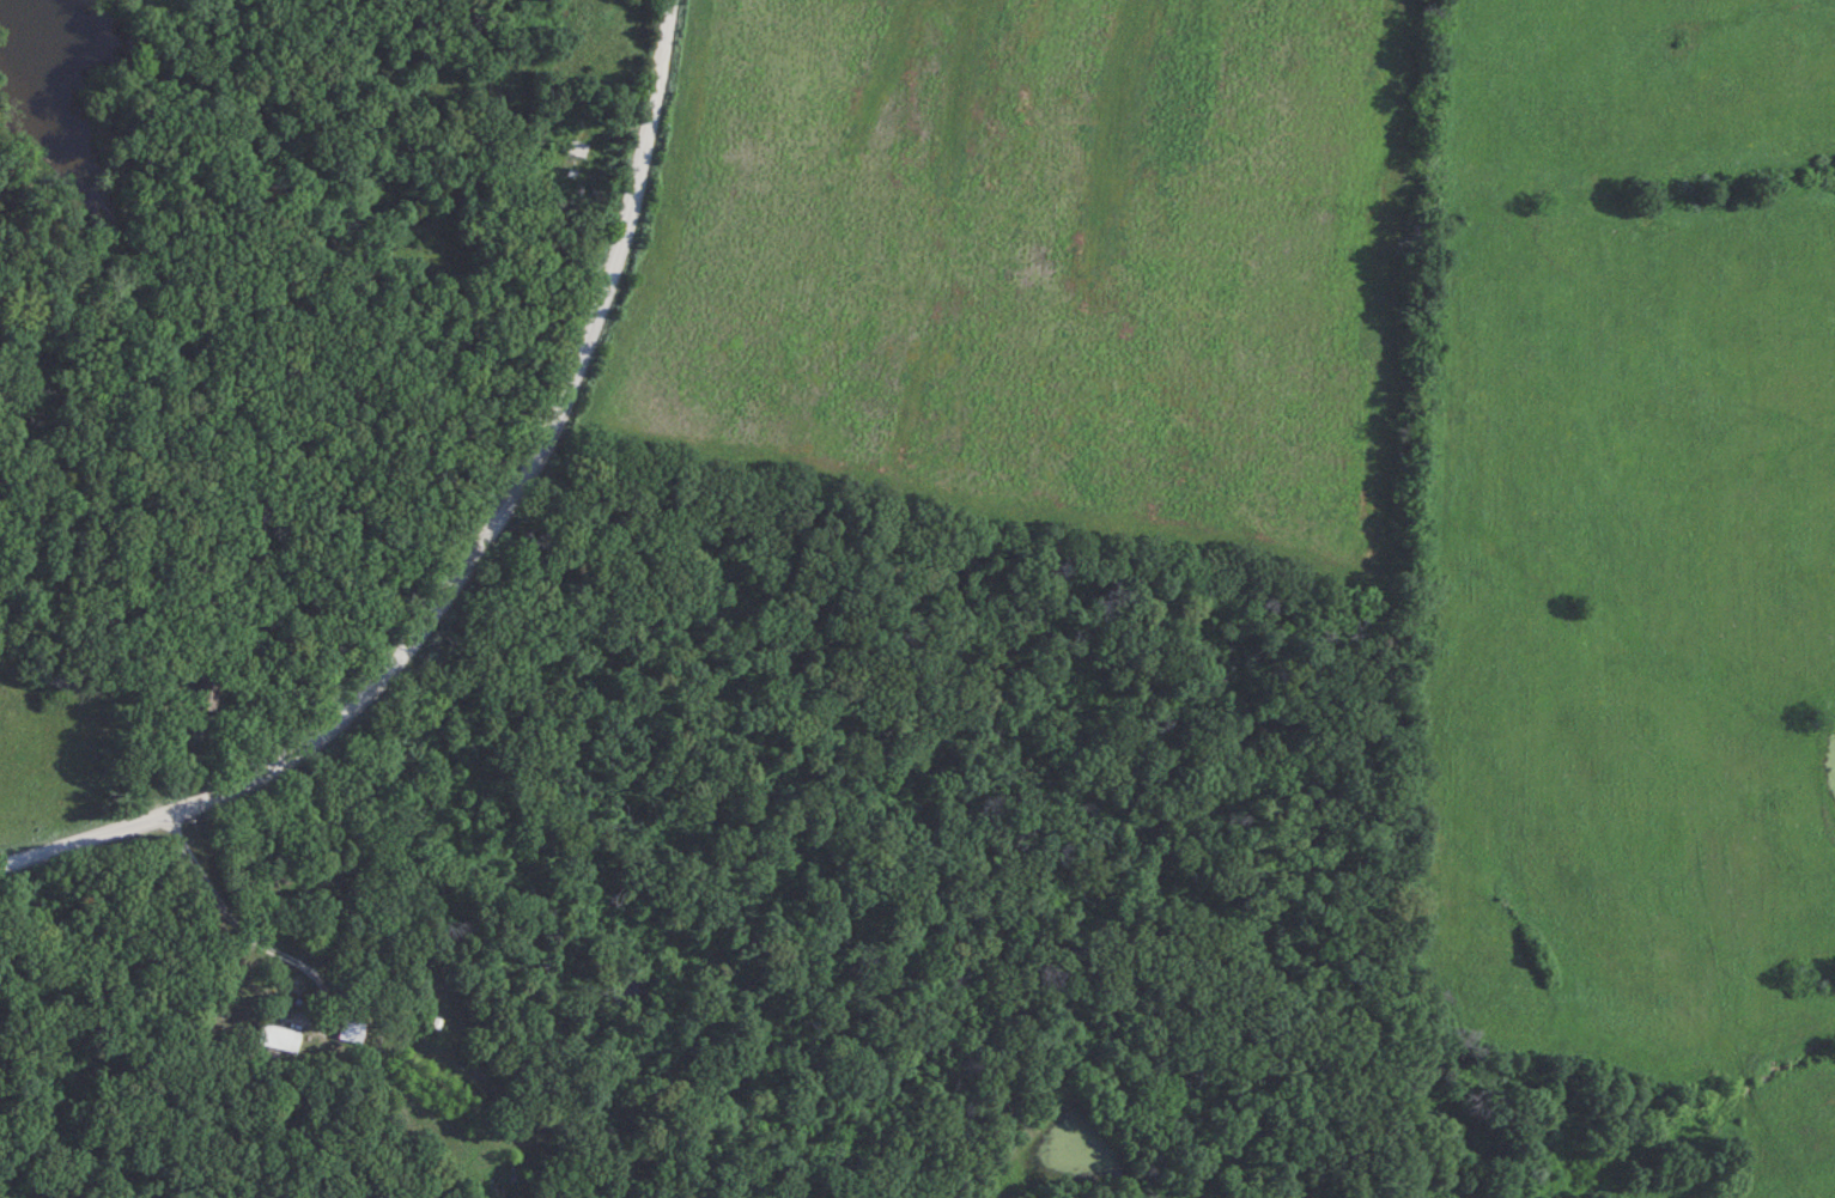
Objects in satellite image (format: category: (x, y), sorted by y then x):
building: (548, 16)
building: (576, 157)
road: (480, 554)
road: (219, 922)
building: (277, 1038)

